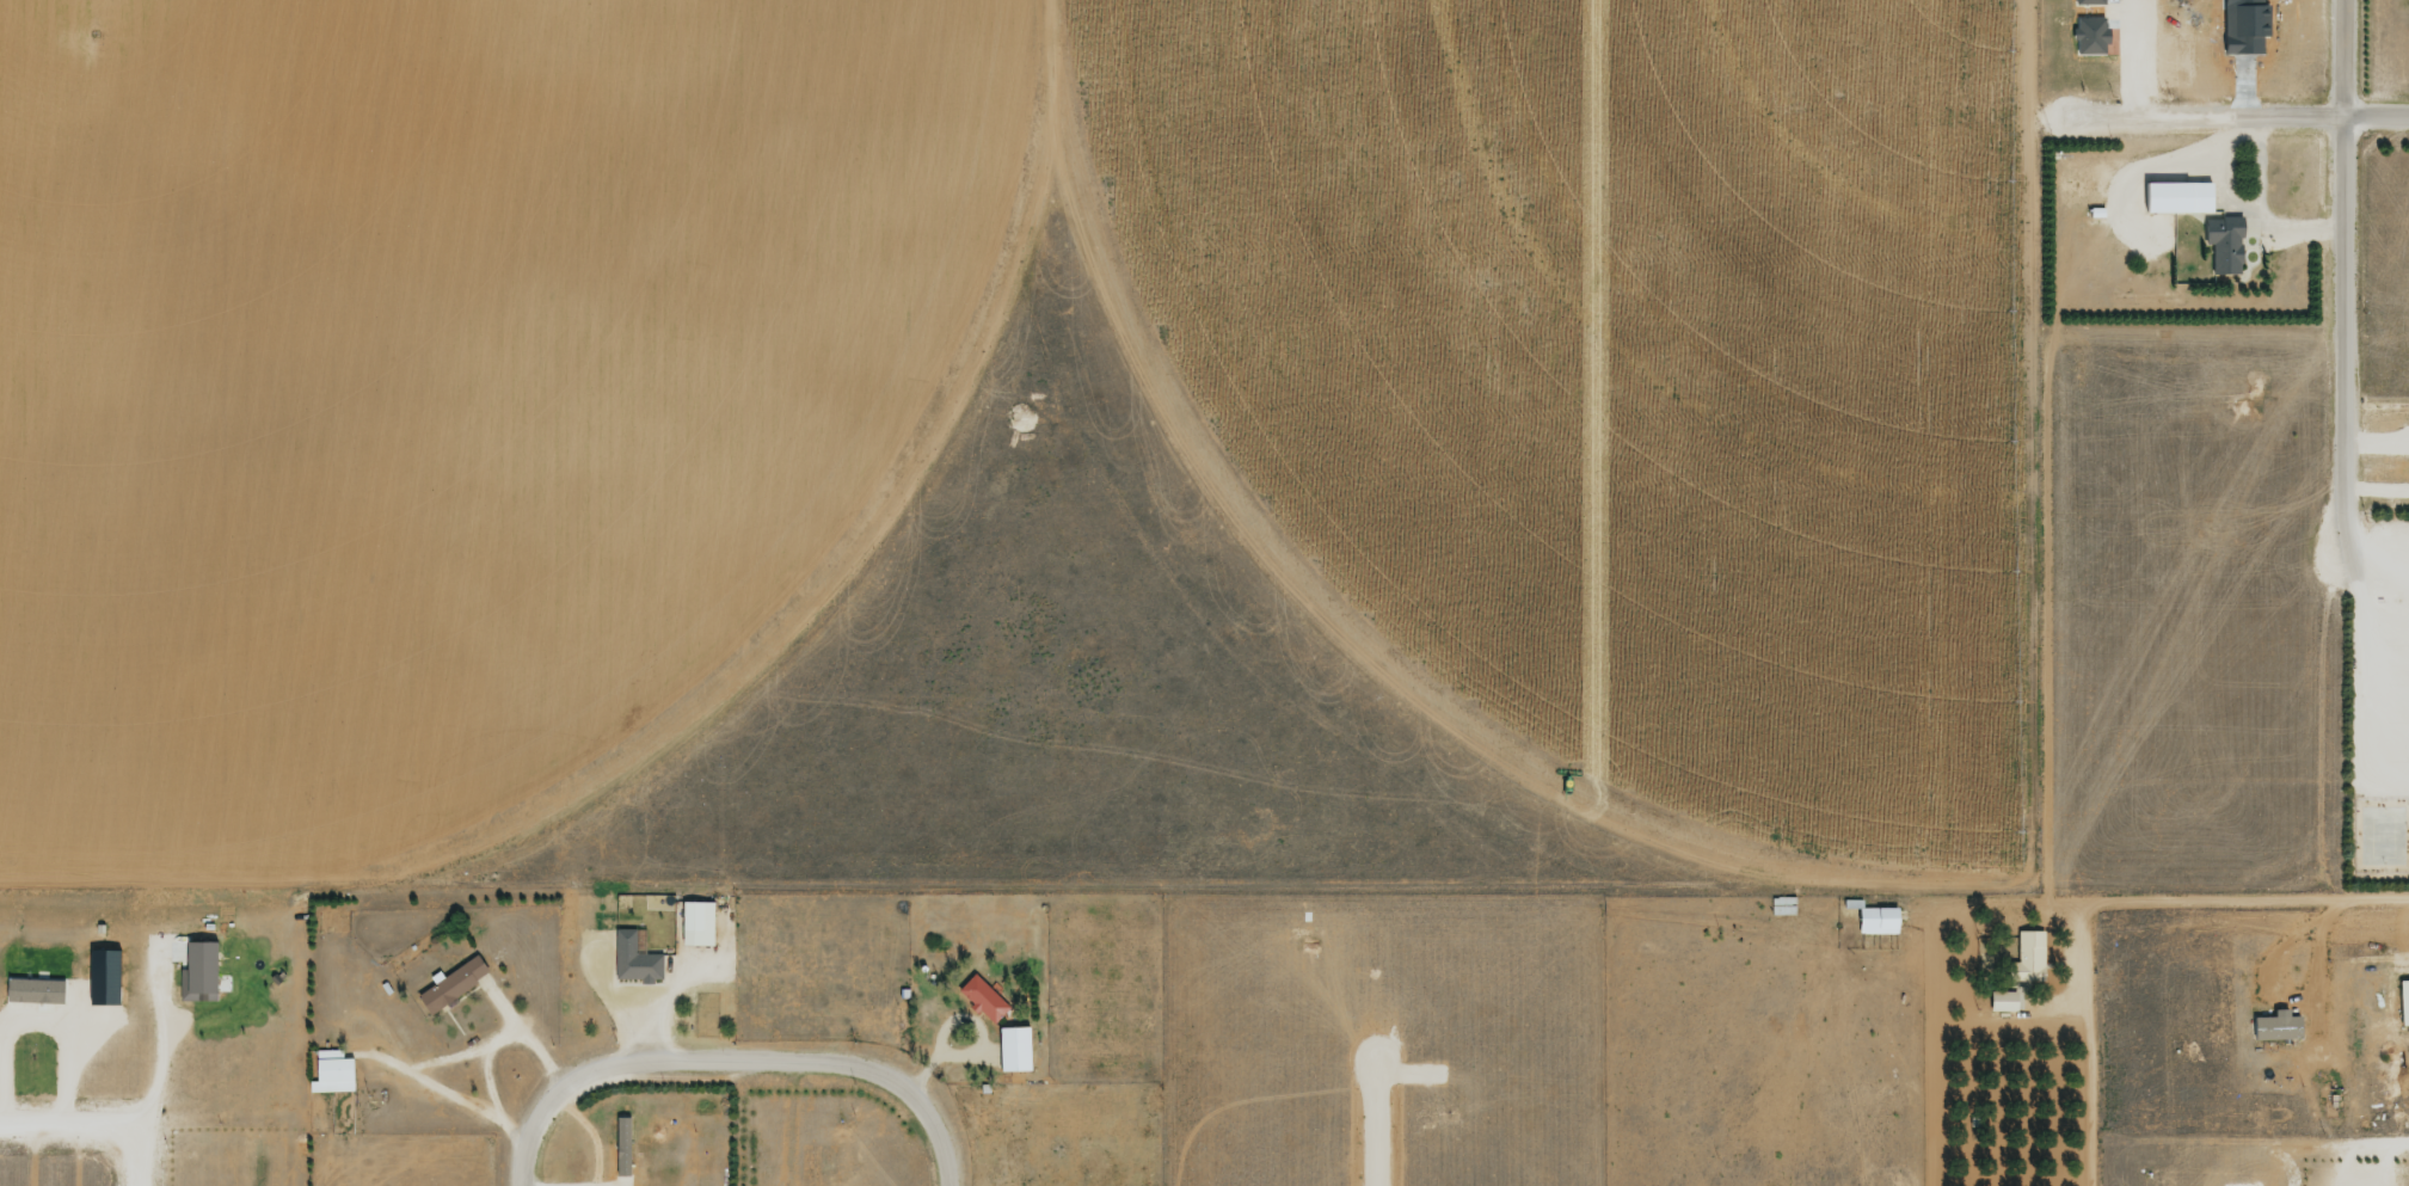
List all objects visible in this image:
building: (2087, 1)
building: (2088, 35)
road: (2226, 127)
building: (2175, 196)
building: (2223, 244)
road: (2340, 283)
road: (2376, 527)
road: (2372, 610)
road: (2356, 657)
road: (2317, 735)
road: (2340, 804)
road: (2374, 806)
park: (2380, 841)
road: (2198, 898)
building: (1875, 920)
building: (695, 922)
building: (633, 958)
building: (2026, 959)
building: (196, 970)
building: (449, 983)
building: (32, 990)
building: (981, 998)
building: (2001, 1000)
building: (2403, 1001)
building: (2275, 1025)
building: (1010, 1049)
road: (711, 1063)
building: (331, 1071)
road: (941, 1127)
road: (64, 1130)
building: (620, 1145)
road: (529, 1150)
road: (129, 1157)

